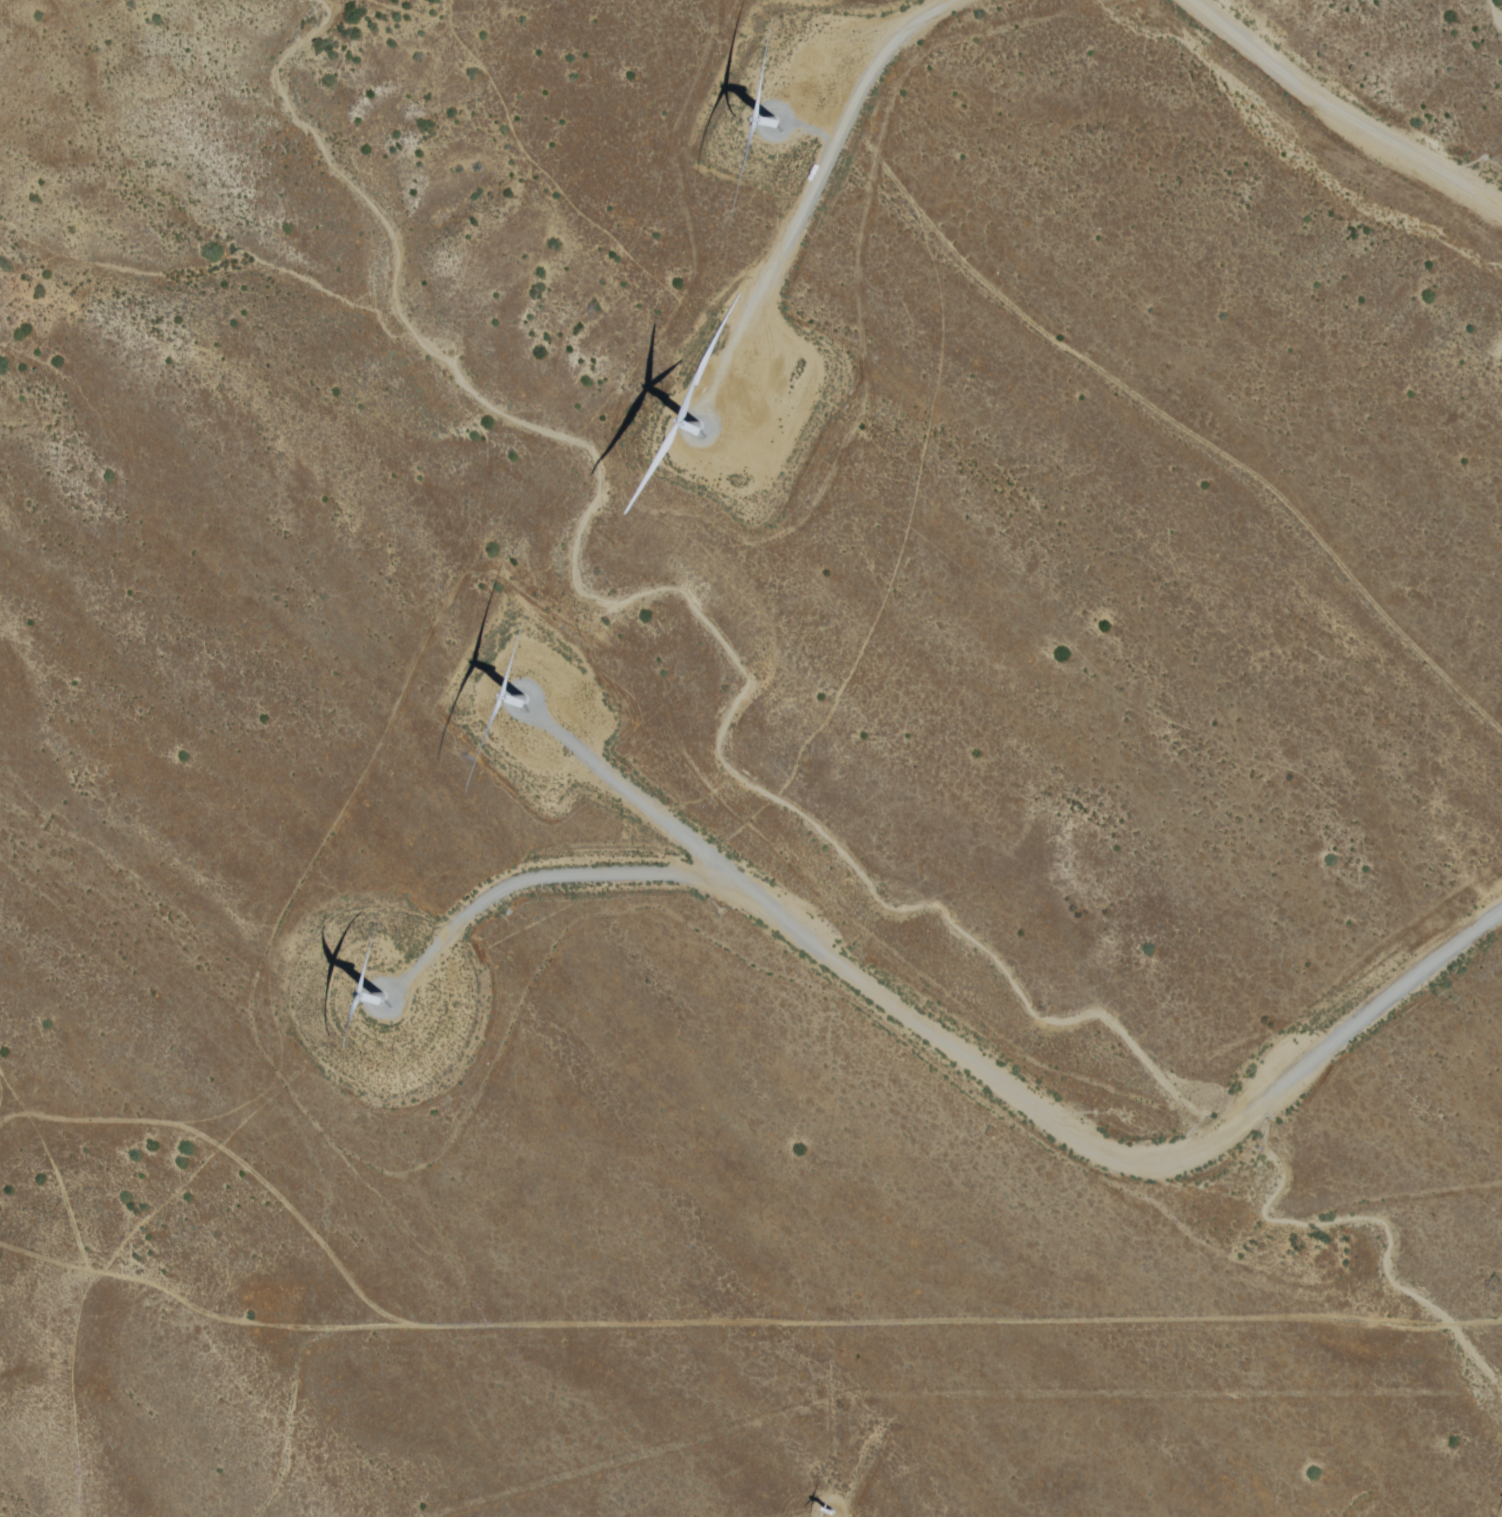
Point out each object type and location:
wind turbine: (773, 112)
wind turbine: (725, 444)
wind turbine: (533, 708)
wind turbine: (391, 992)
road: (971, 1315)
wind turbine: (827, 1511)

